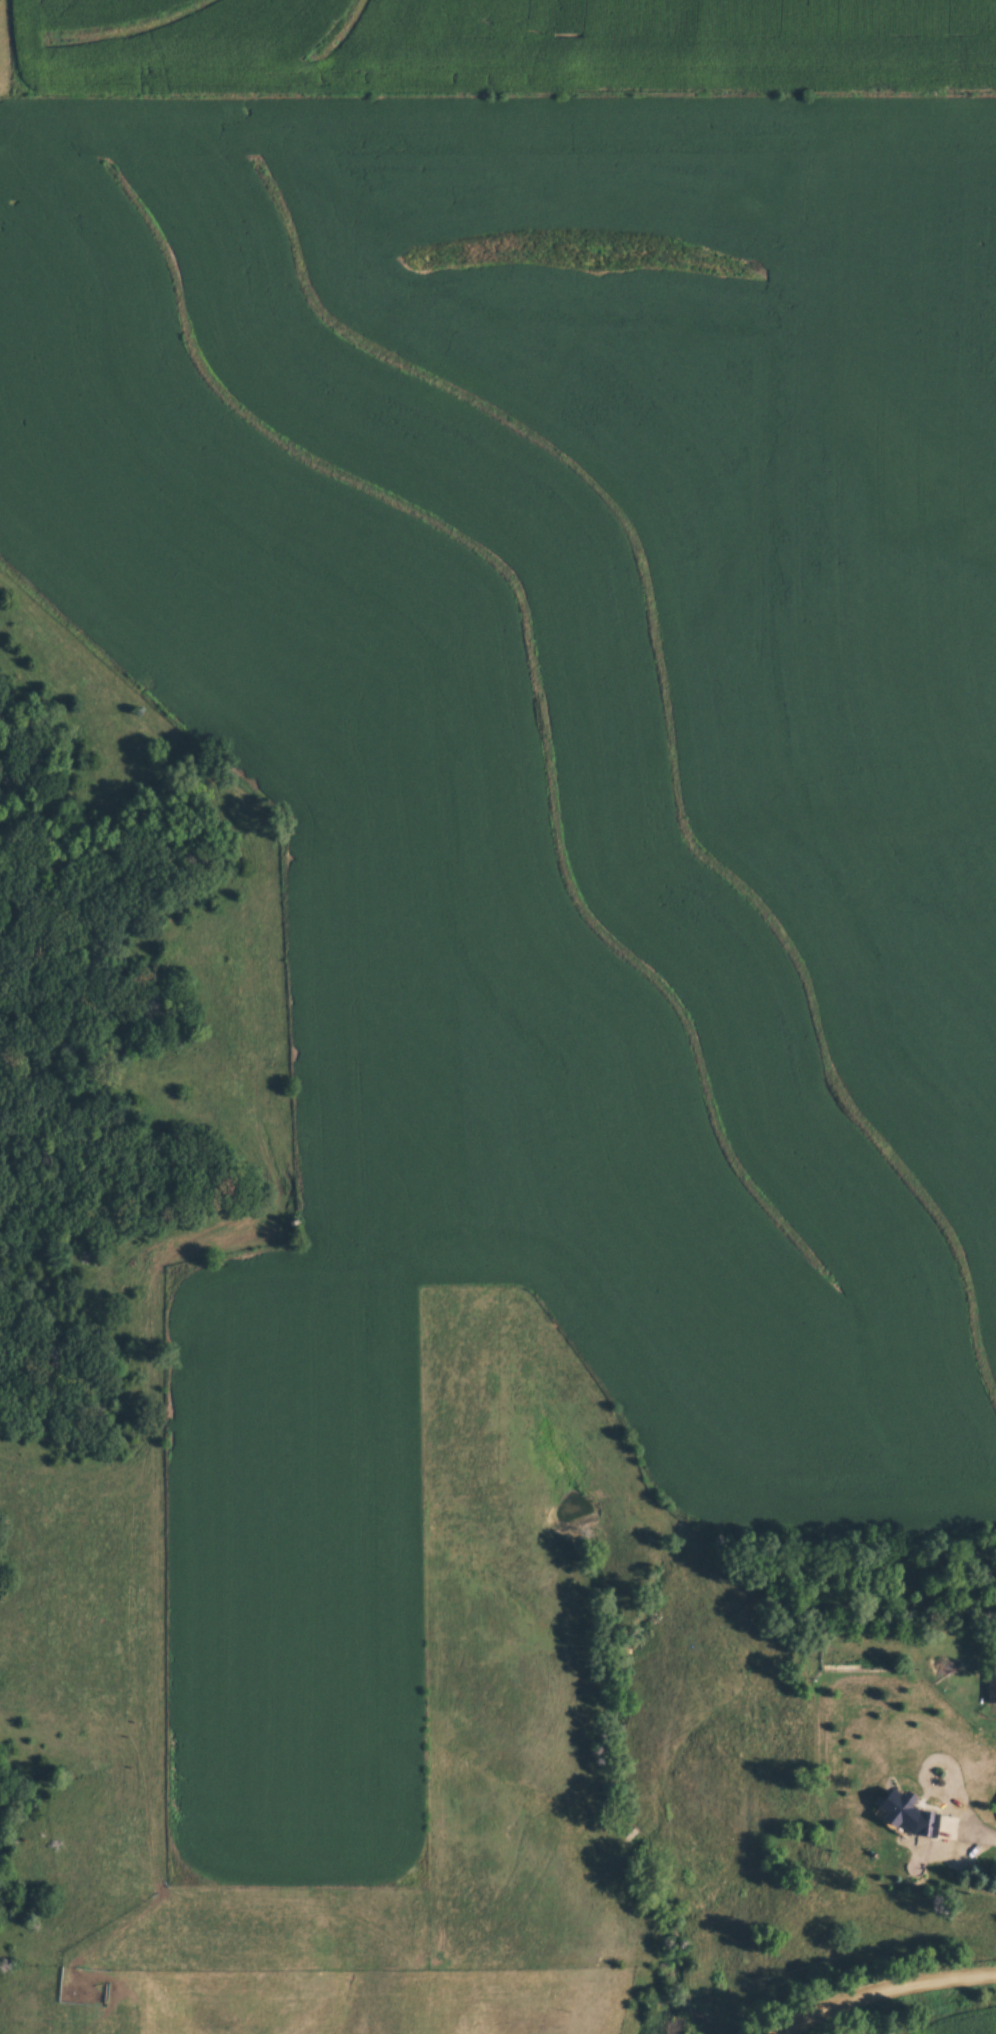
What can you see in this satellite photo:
building: (917, 1817)
road: (887, 1990)

